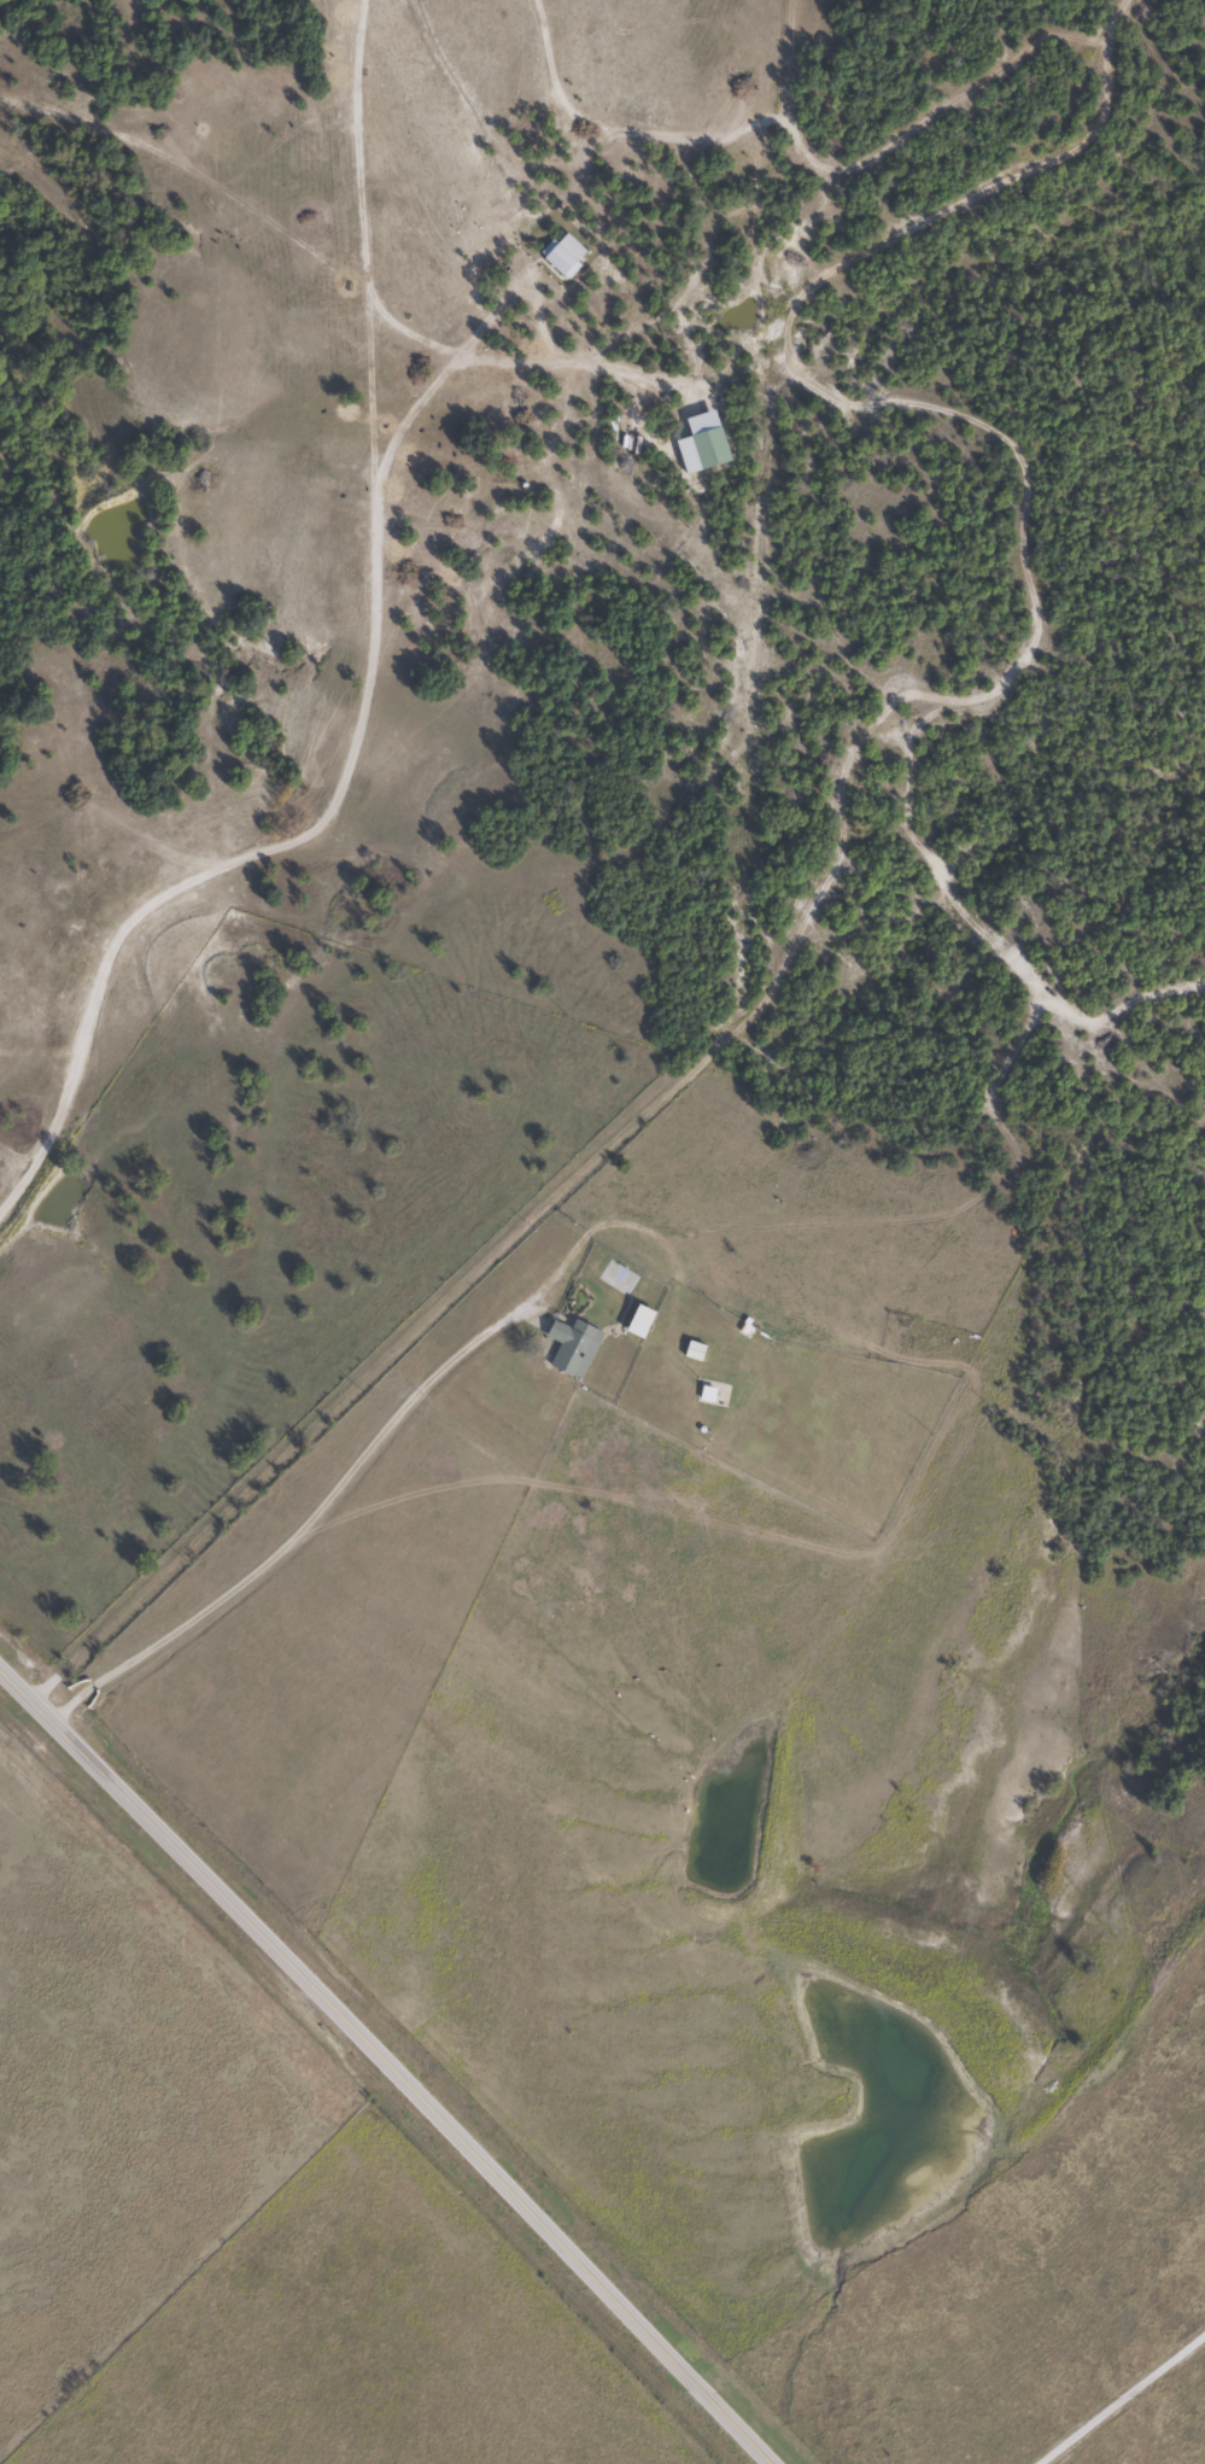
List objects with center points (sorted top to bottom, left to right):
building: (700, 448)
building: (634, 1324)
building: (569, 1349)
building: (689, 1353)
building: (701, 1396)
road: (387, 2066)
road: (1124, 2399)

